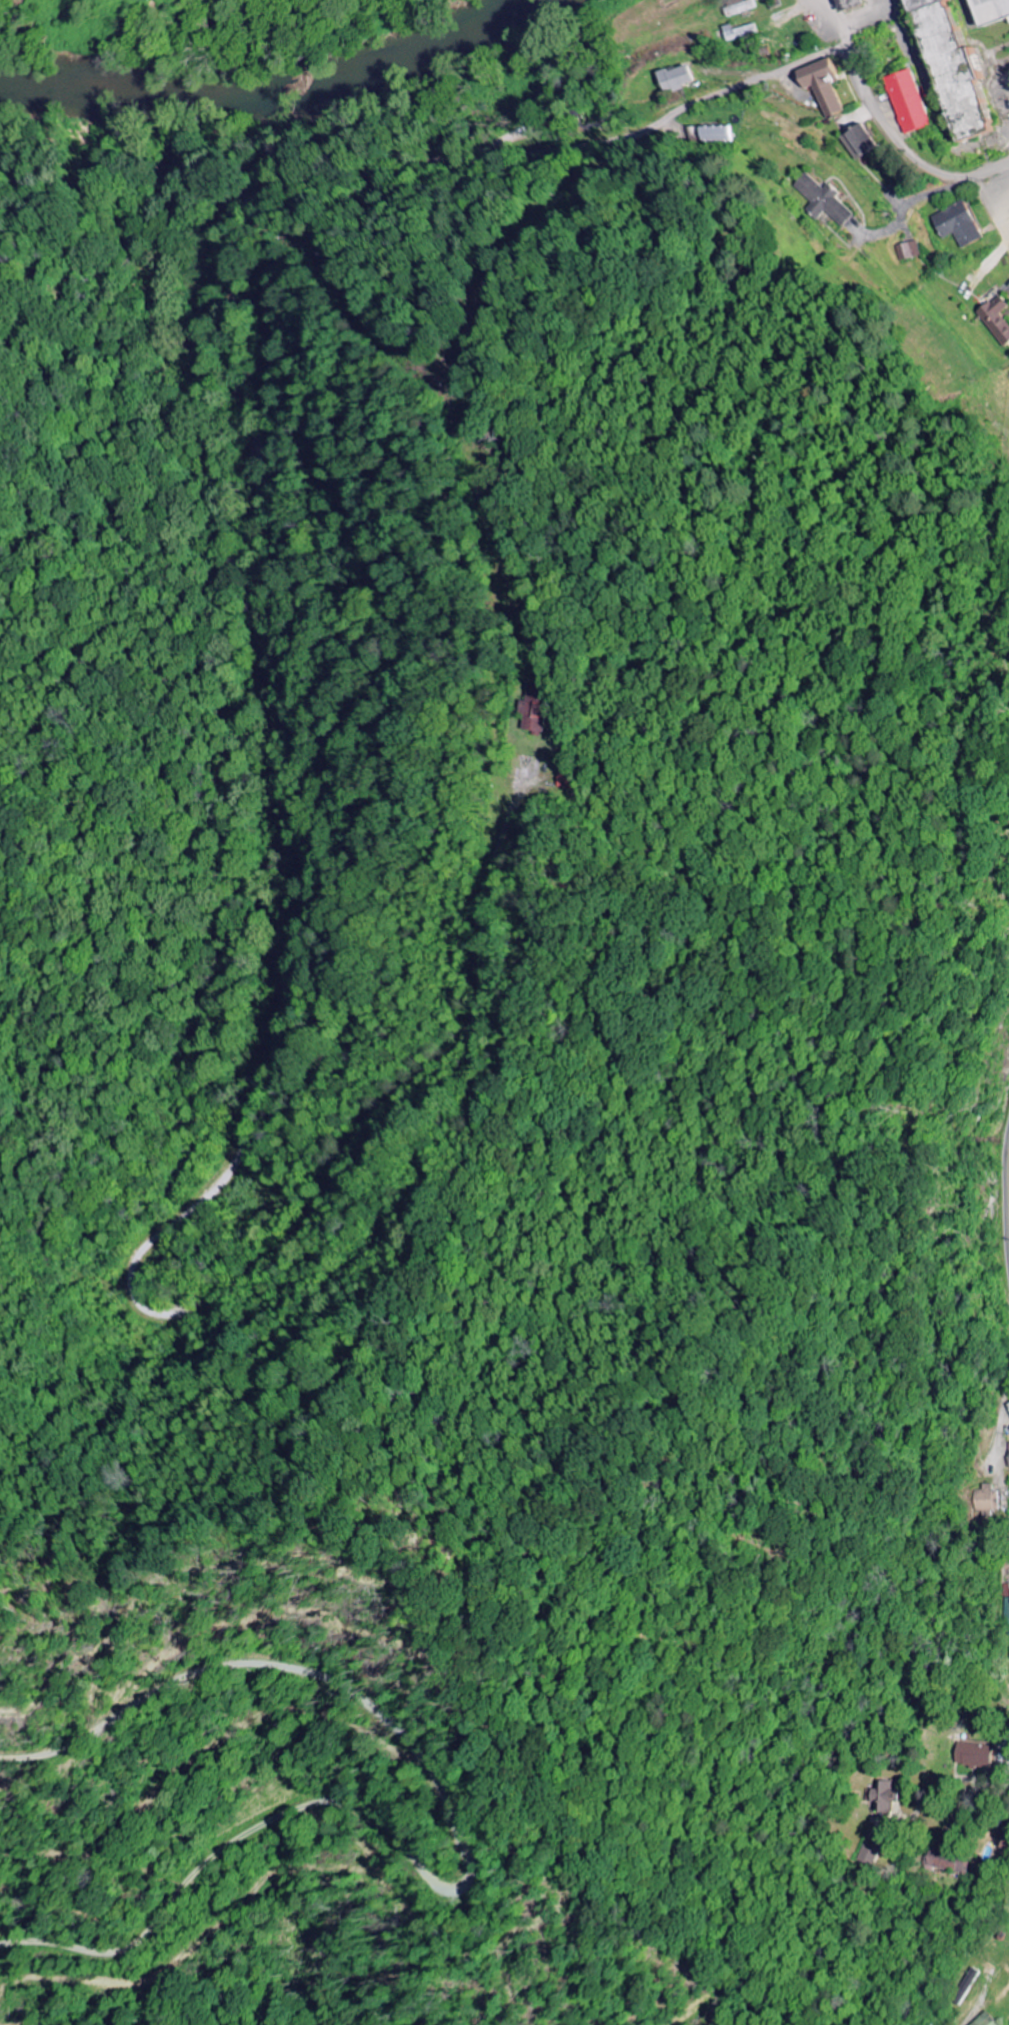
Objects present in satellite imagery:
building: (740, 9)
building: (988, 11)
building: (739, 33)
building: (948, 71)
building: (676, 79)
building: (821, 85)
building: (906, 102)
river: (280, 103)
building: (716, 134)
building: (857, 141)
road: (993, 170)
road: (1004, 178)
building: (823, 200)
road: (992, 208)
building: (956, 225)
building: (907, 251)
building: (996, 320)
building: (532, 711)
road: (275, 713)
building: (566, 780)
road: (1008, 1205)
building: (1008, 1466)
building: (987, 1498)
building: (1007, 1611)
building: (973, 1756)
road: (952, 1781)
building: (882, 1799)
building: (870, 1852)
building: (947, 1862)
building: (984, 2021)

